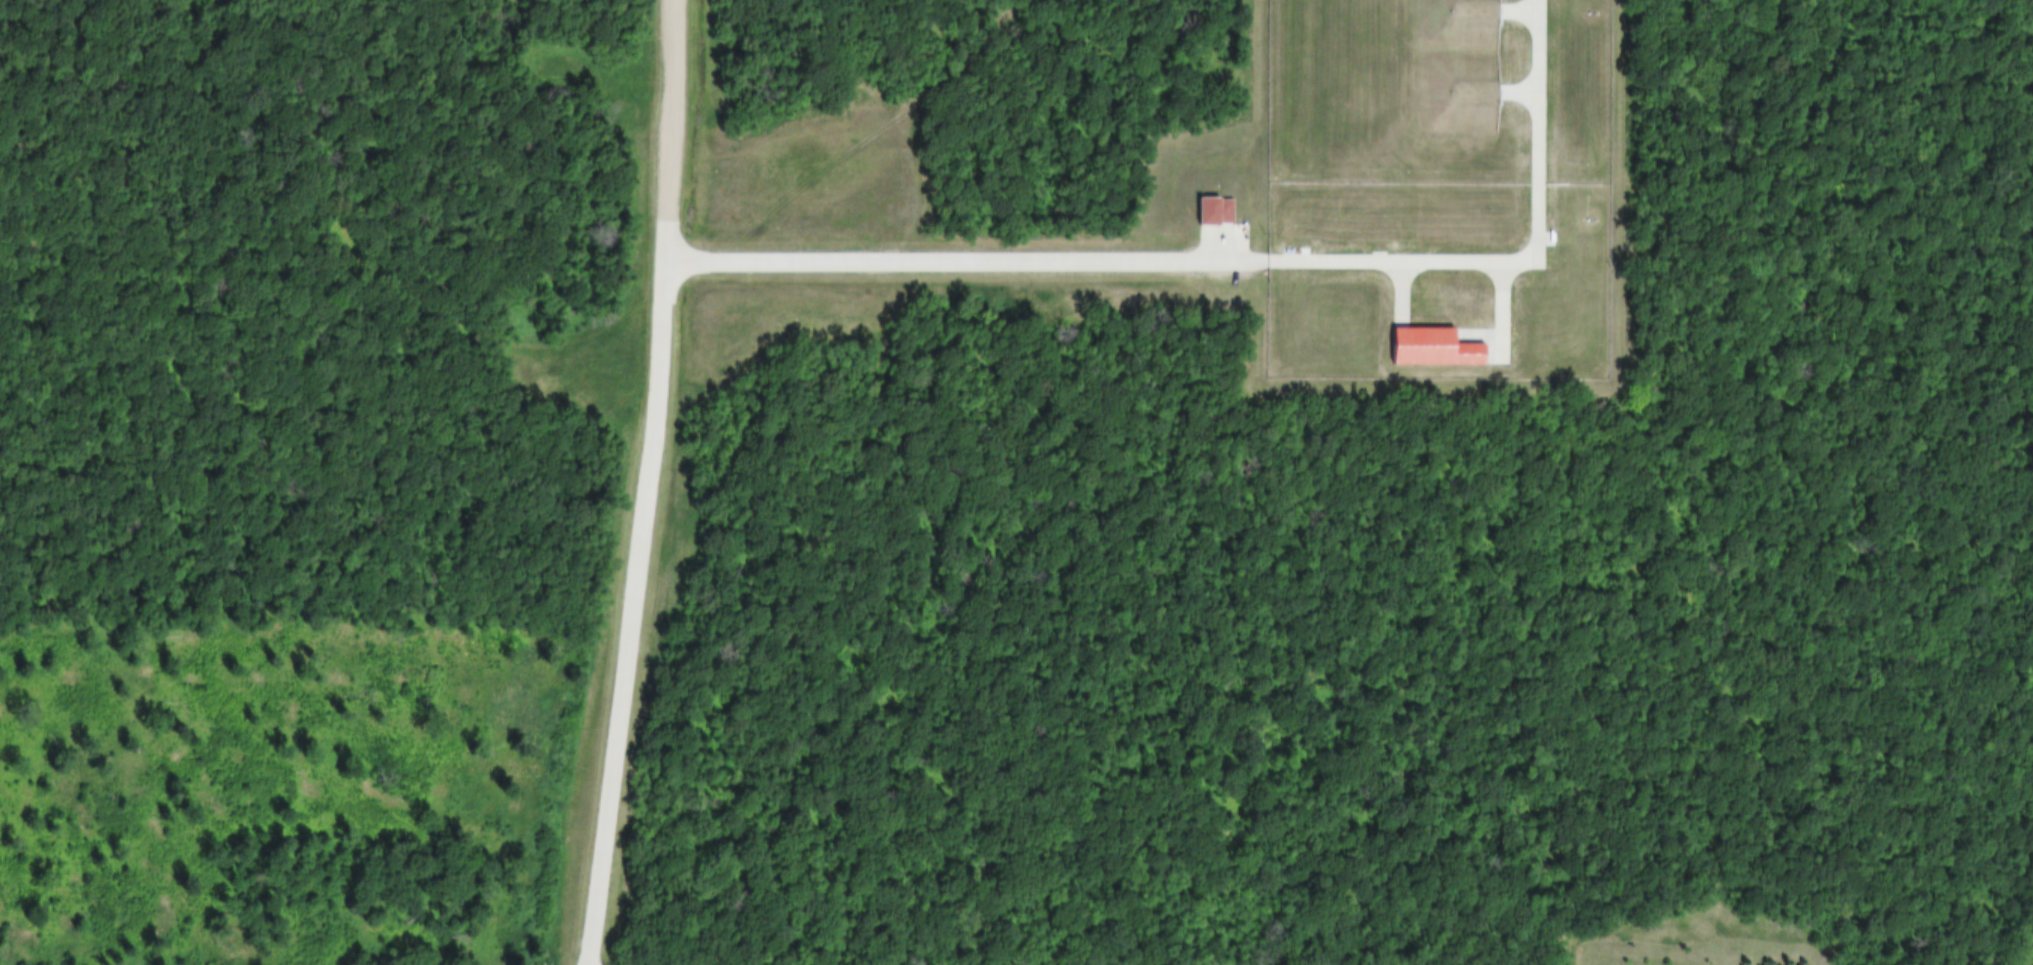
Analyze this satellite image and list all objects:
building: (1454, 26)
building: (1454, 94)
road: (872, 110)
road: (677, 130)
building: (1208, 210)
road: (1227, 261)
road: (1397, 291)
road: (1495, 311)
building: (1421, 346)
road: (635, 613)

